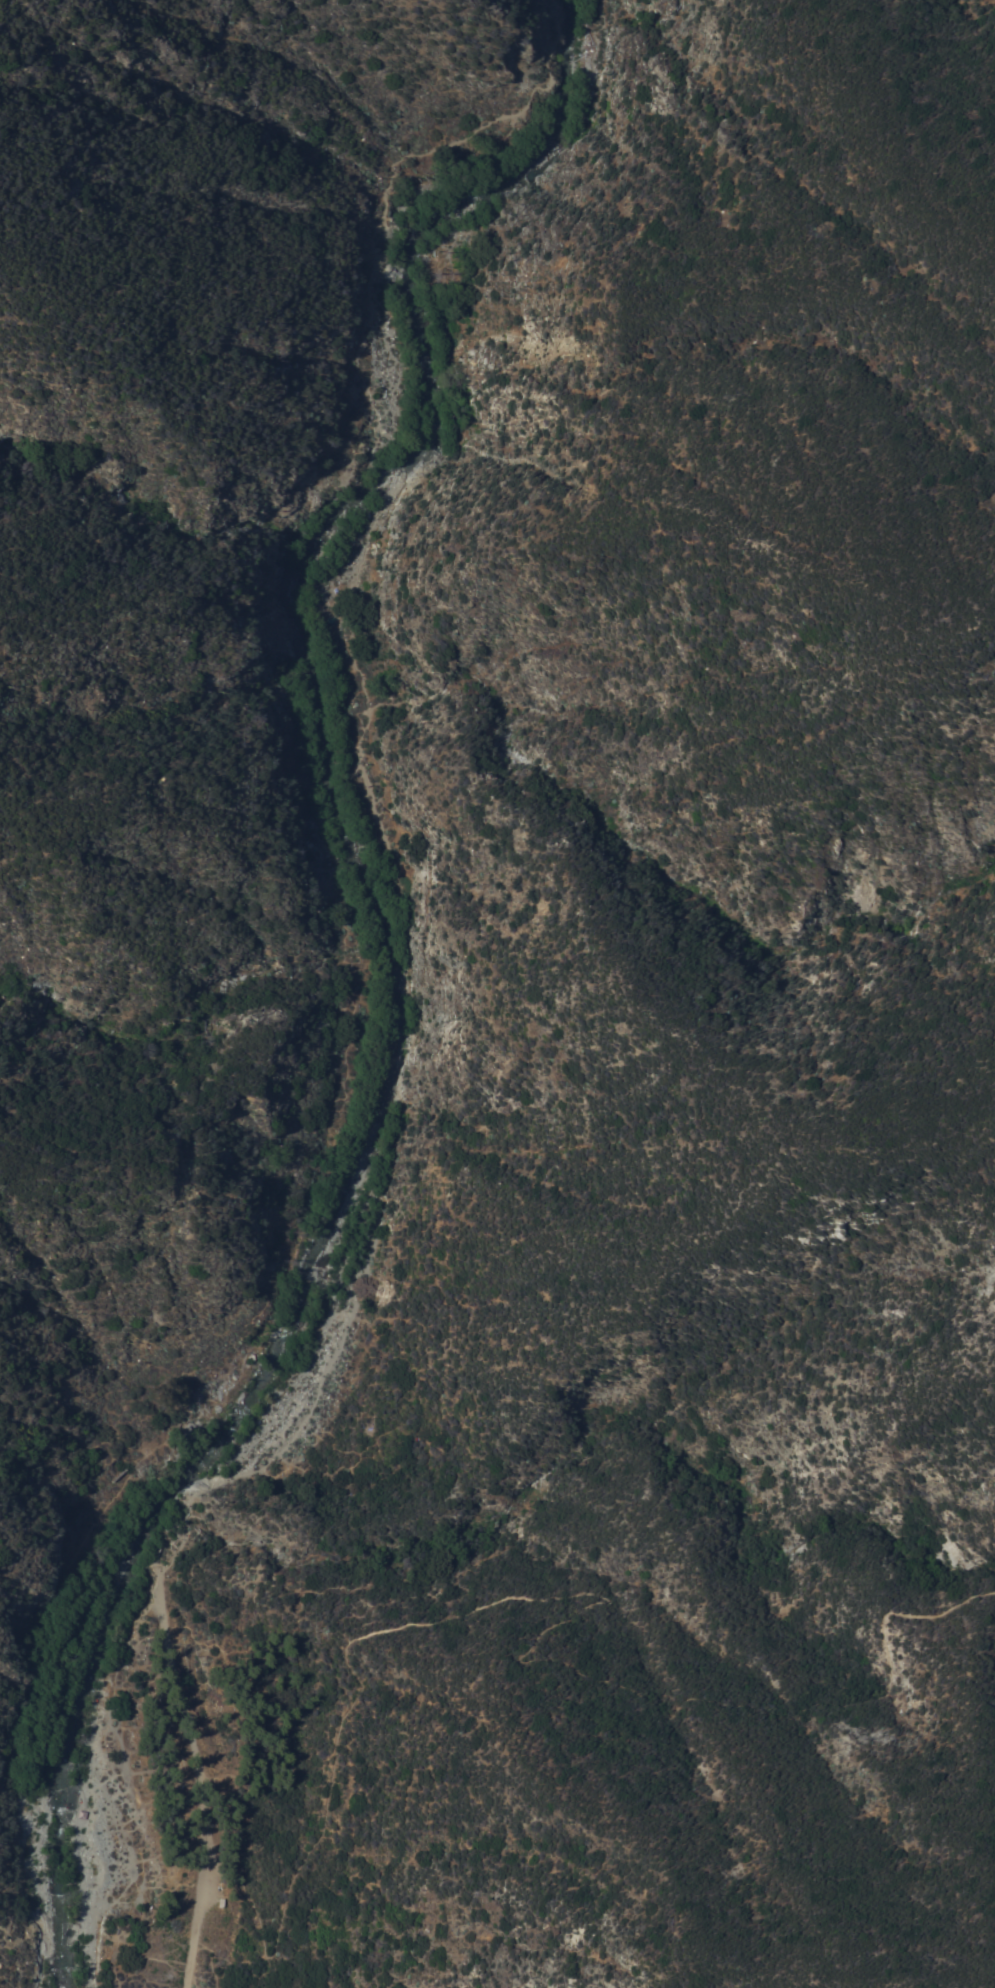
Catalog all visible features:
road: (366, 766)
river: (384, 955)
road: (588, 1596)
road: (199, 1778)

